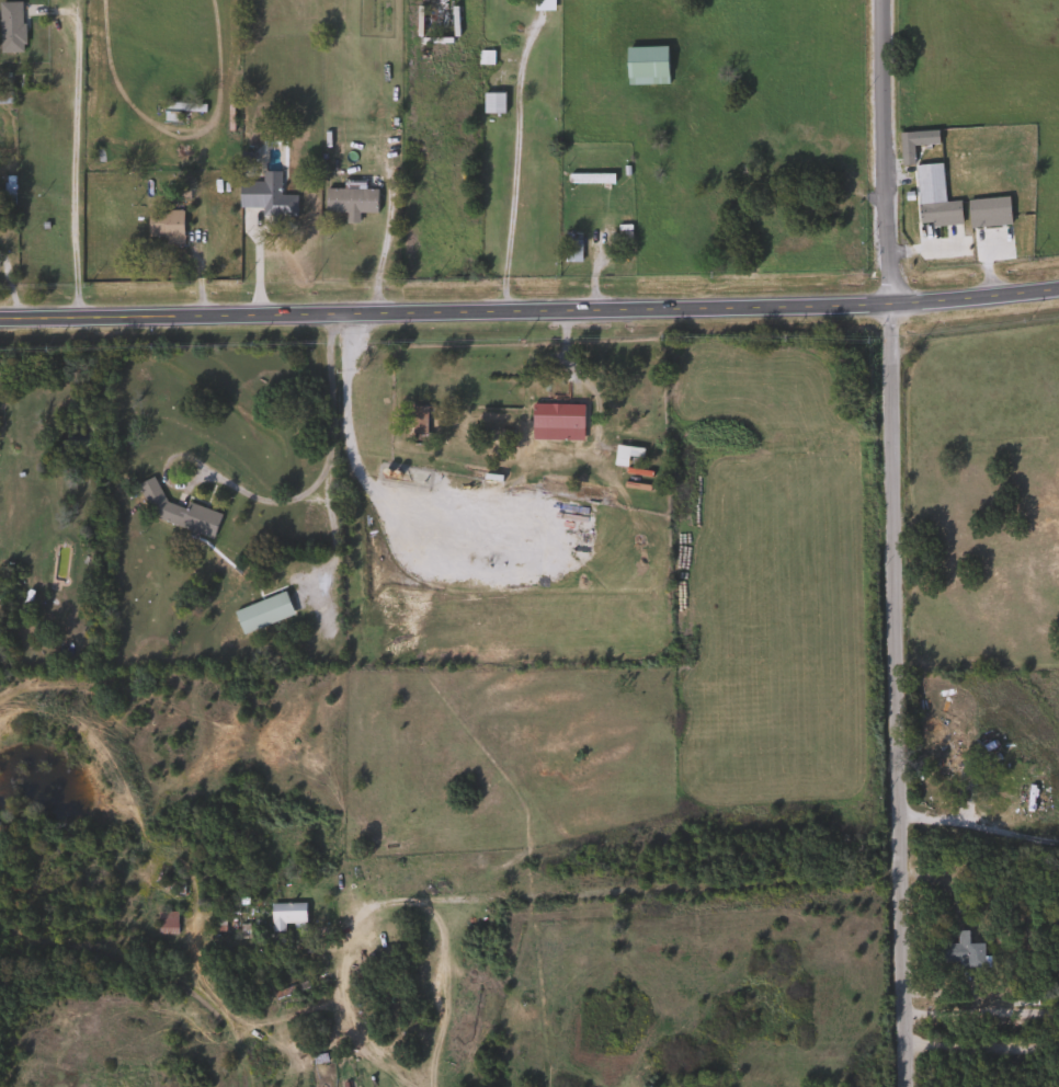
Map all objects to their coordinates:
building: (539, 4)
building: (10, 27)
building: (644, 66)
building: (490, 103)
road: (75, 160)
road: (513, 167)
building: (587, 179)
building: (272, 198)
building: (931, 198)
building: (346, 199)
building: (984, 211)
building: (162, 226)
road: (920, 247)
building: (569, 251)
road: (379, 256)
road: (529, 310)
building: (356, 393)
building: (554, 416)
building: (419, 423)
road: (323, 472)
building: (174, 512)
road: (888, 543)
road: (976, 826)
building: (284, 915)
building: (163, 923)
building: (958, 951)
road: (978, 1049)
building: (355, 1061)

